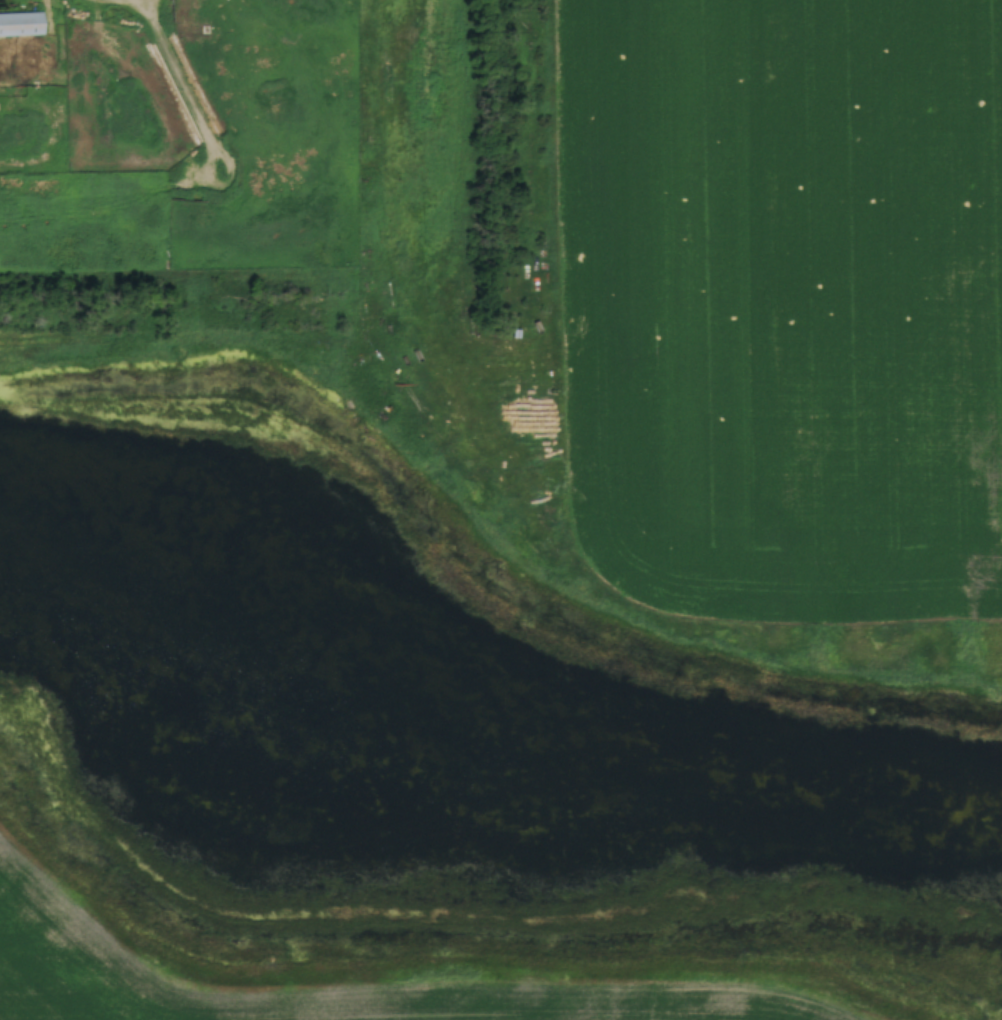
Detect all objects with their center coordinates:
building: (21, 24)

